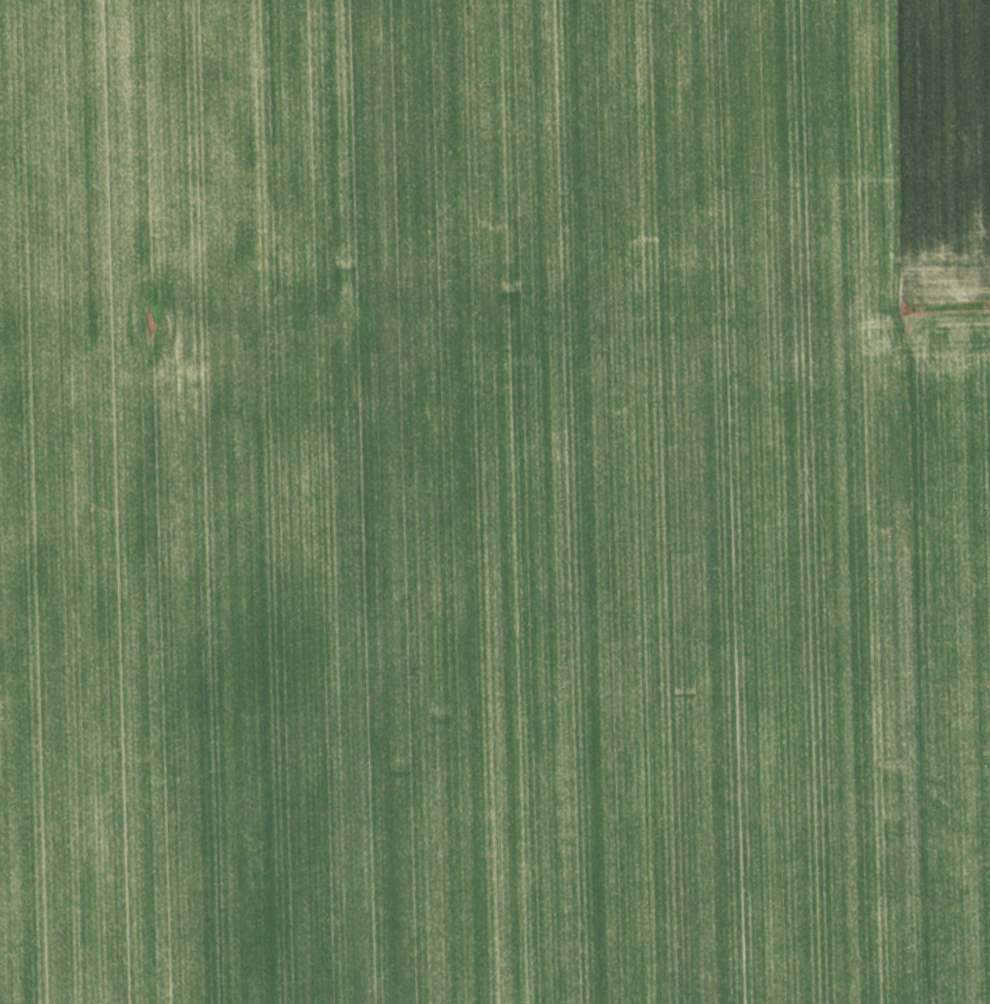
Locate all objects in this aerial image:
crop: (495, 502)

